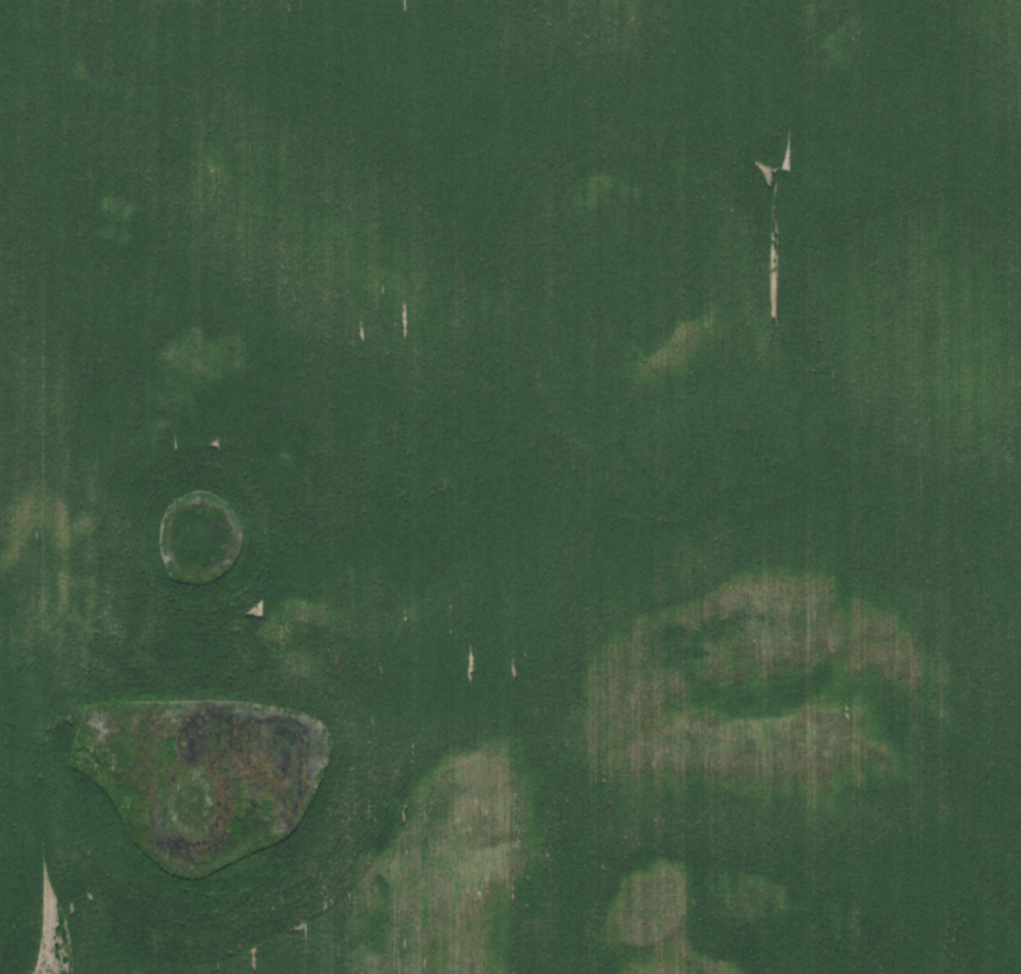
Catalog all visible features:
crop: (510, 487)

